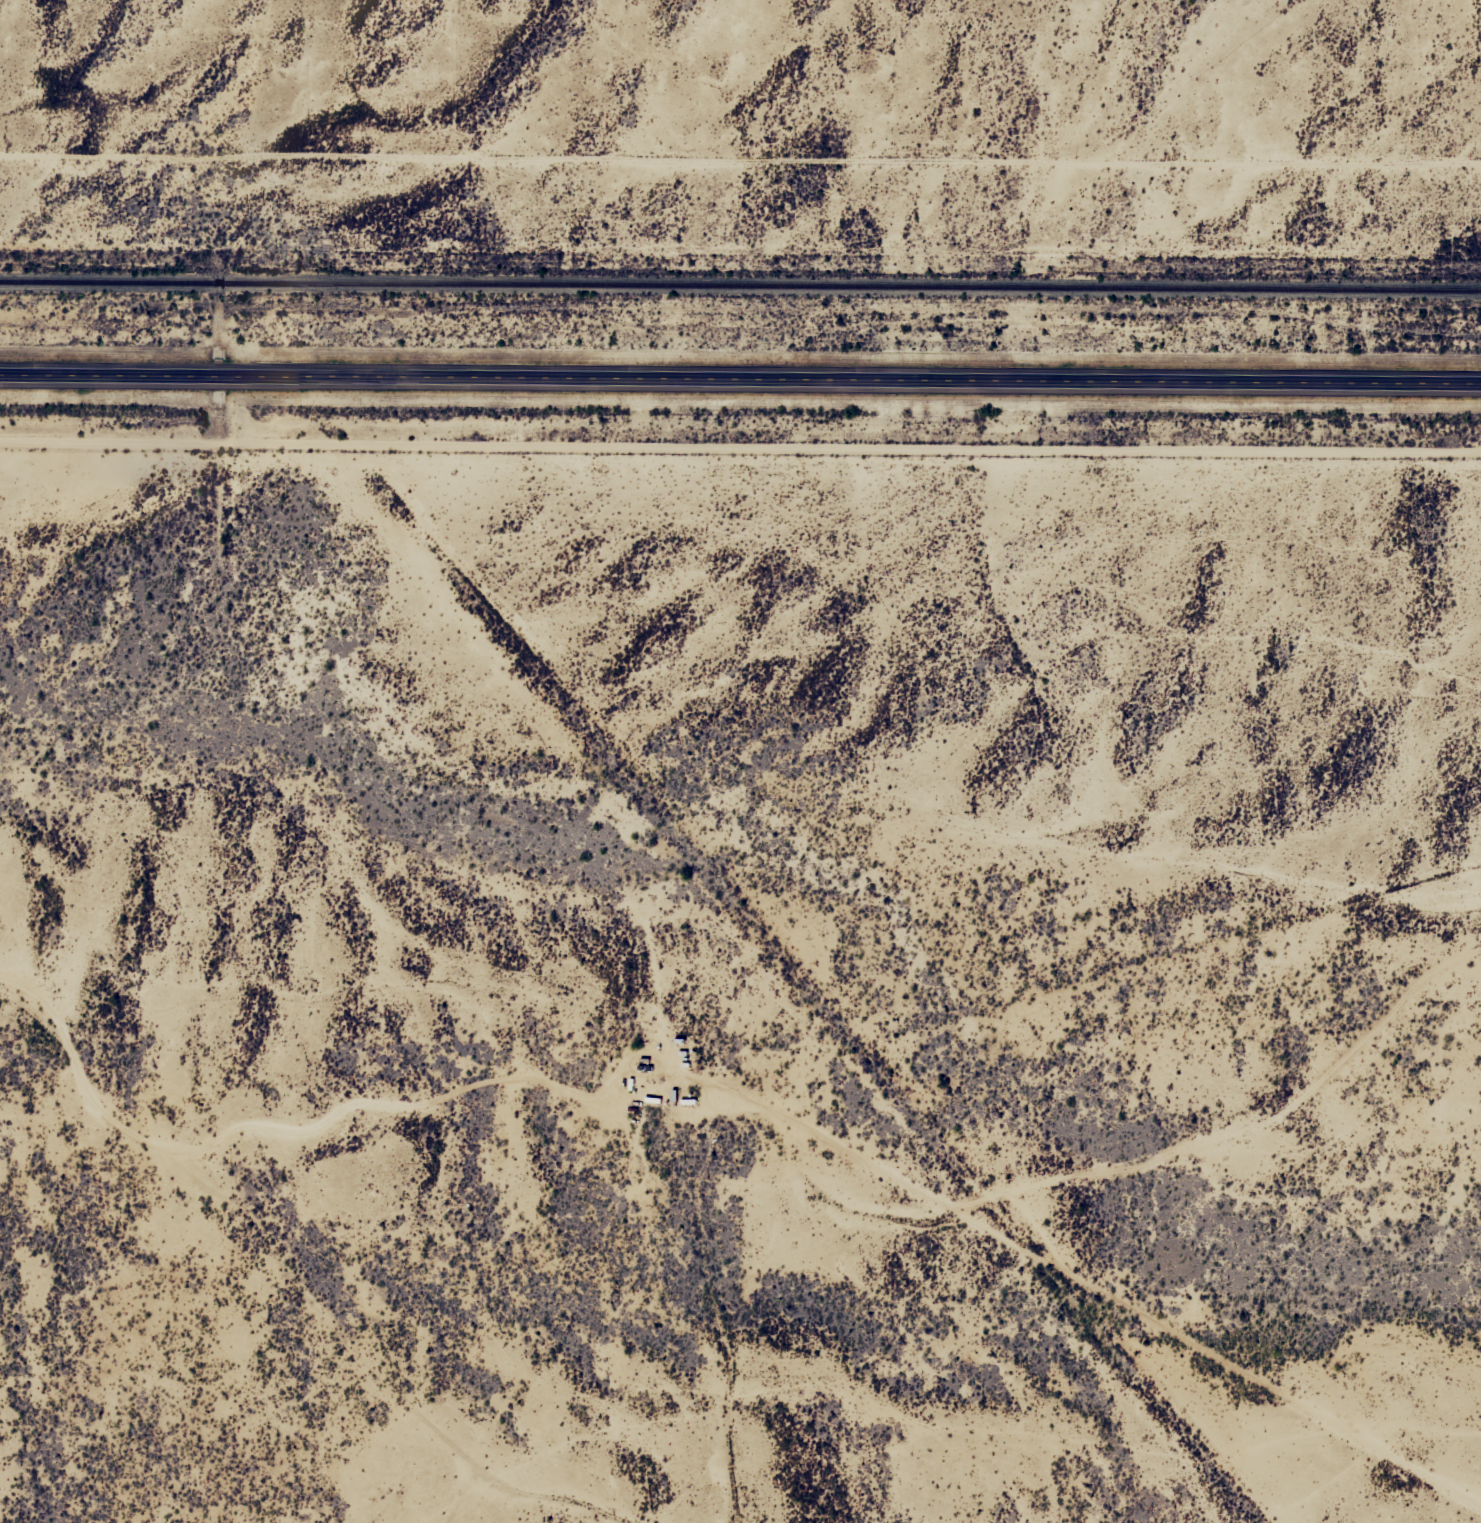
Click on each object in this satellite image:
railway: (740, 286)
road: (740, 376)

